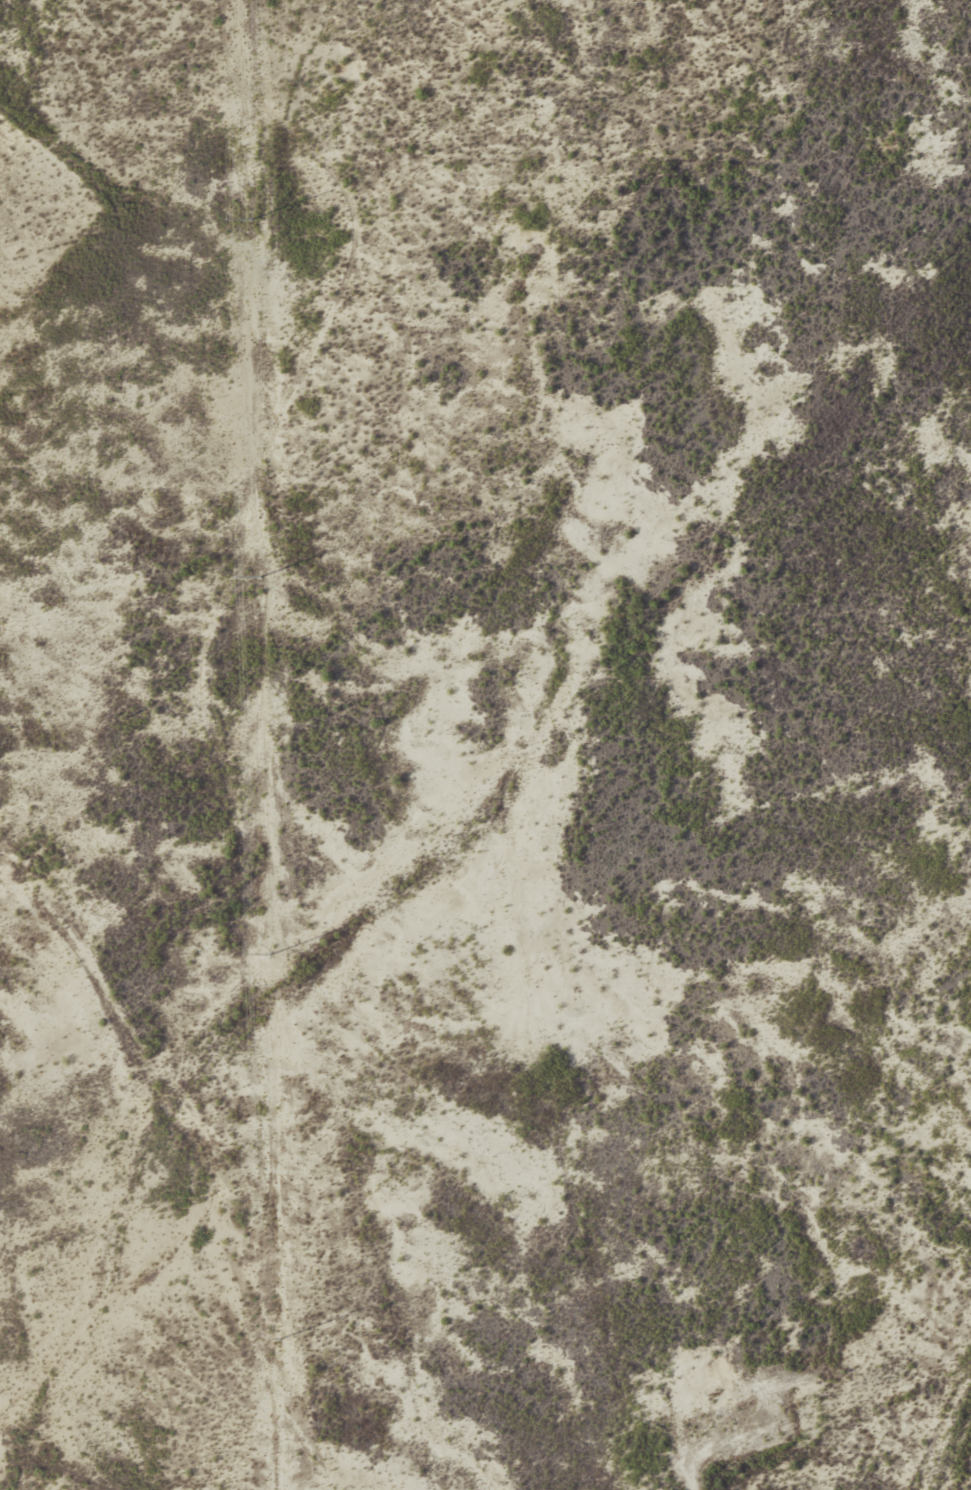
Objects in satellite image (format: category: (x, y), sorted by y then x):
power tower: (250, 221)
power tower: (259, 578)
power tower: (269, 956)
road: (210, 1164)
power tower: (279, 1341)

